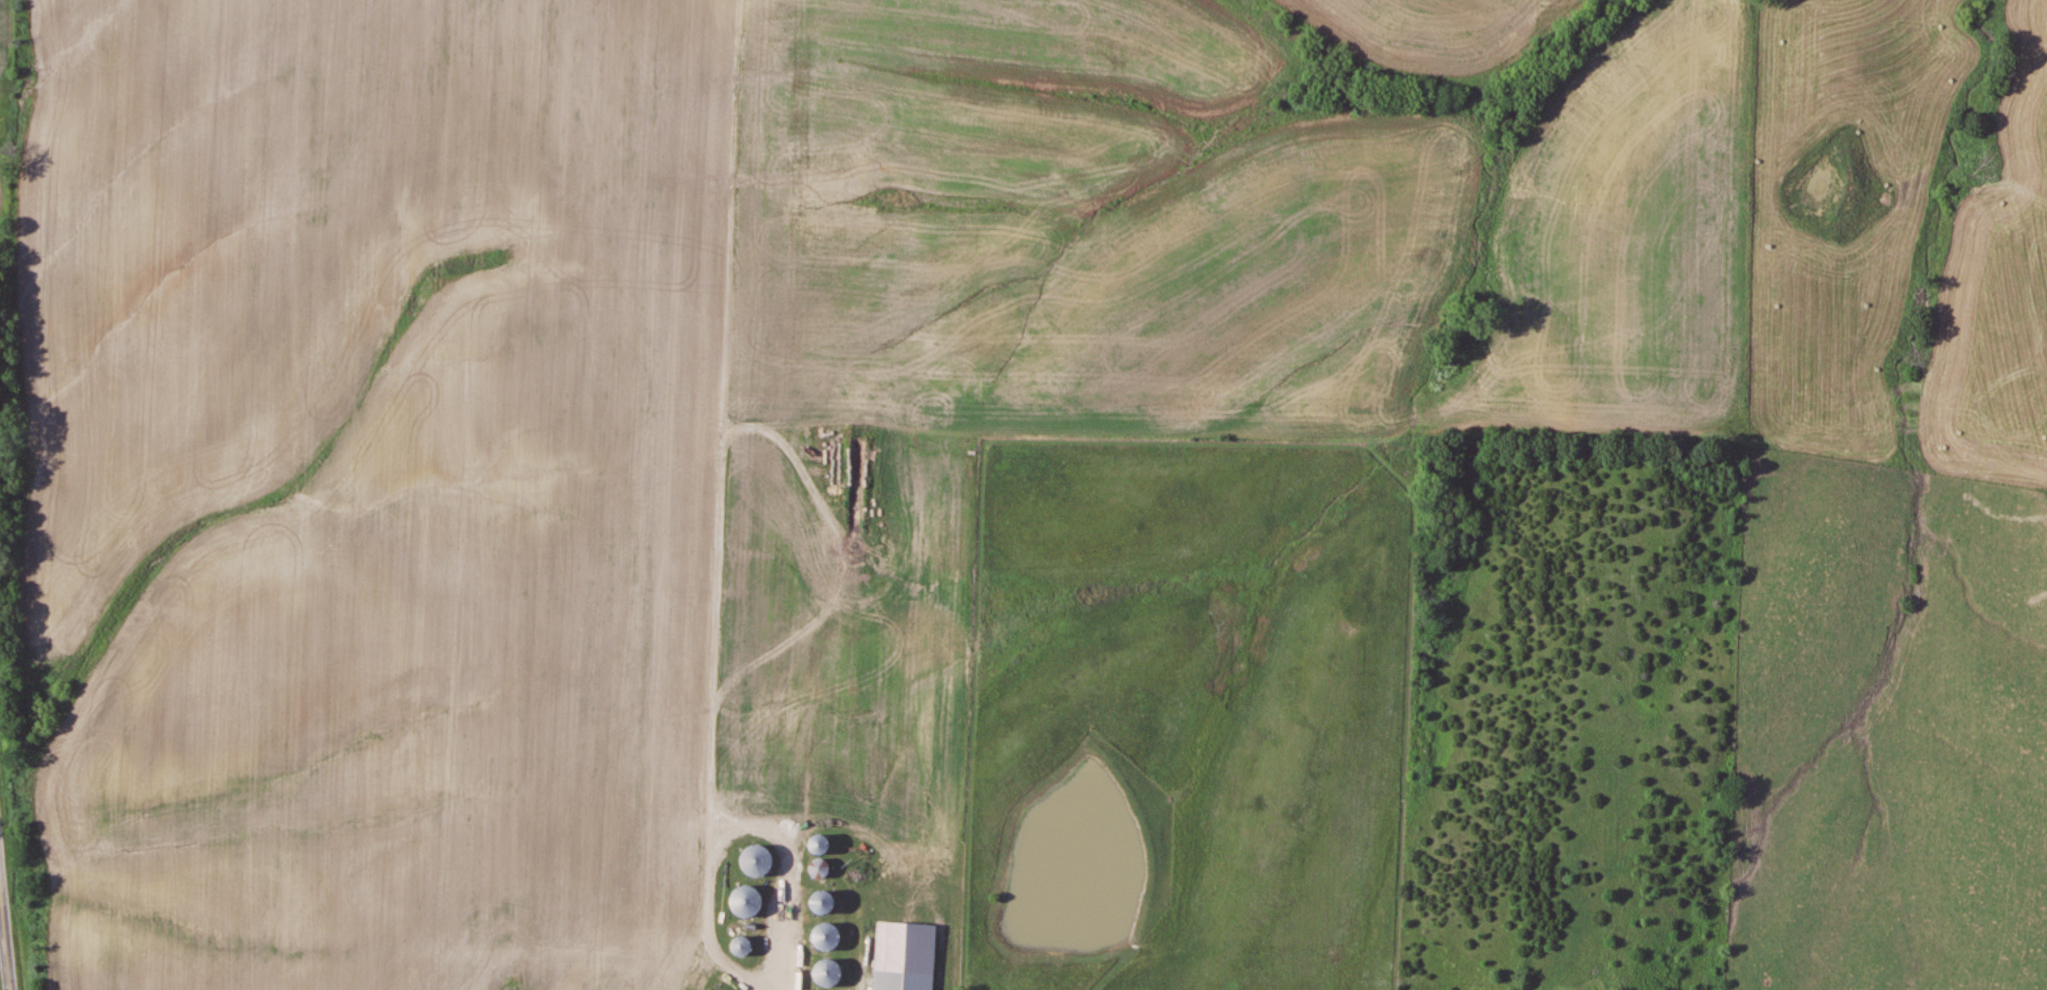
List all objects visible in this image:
building: (760, 860)
building: (822, 867)
building: (825, 900)
building: (749, 902)
building: (828, 937)
building: (744, 945)
road: (5, 950)
building: (904, 979)

